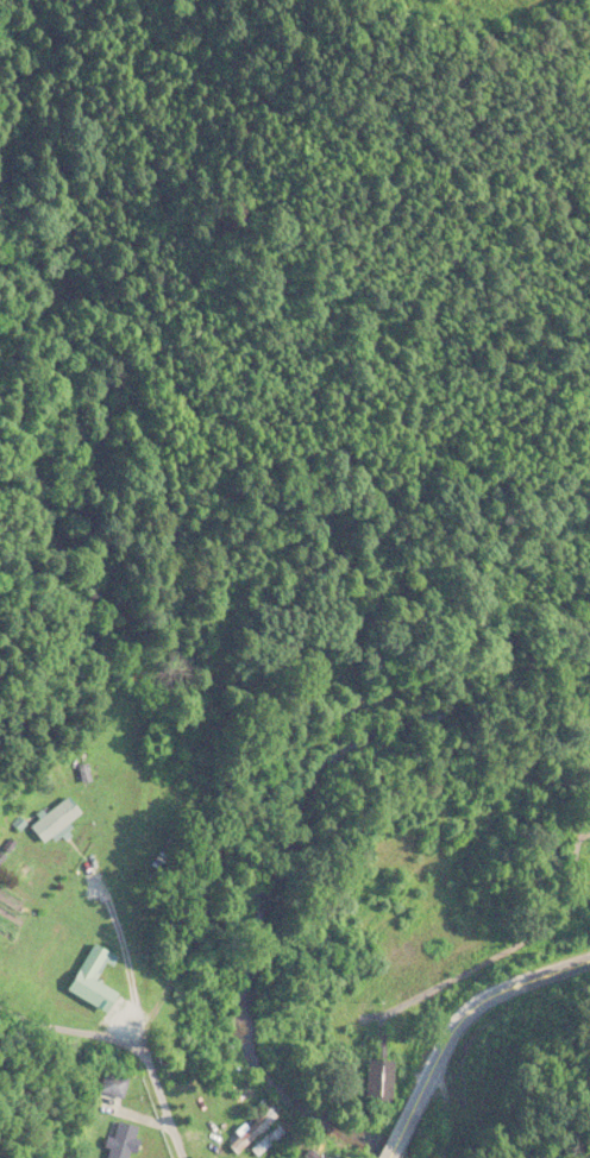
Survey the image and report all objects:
quarry: (503, 4)
building: (58, 819)
building: (96, 981)
road: (457, 1025)
road: (130, 1037)
building: (383, 1081)
building: (115, 1084)
building: (252, 1131)
building: (124, 1140)
building: (268, 1141)
building: (316, 1156)

